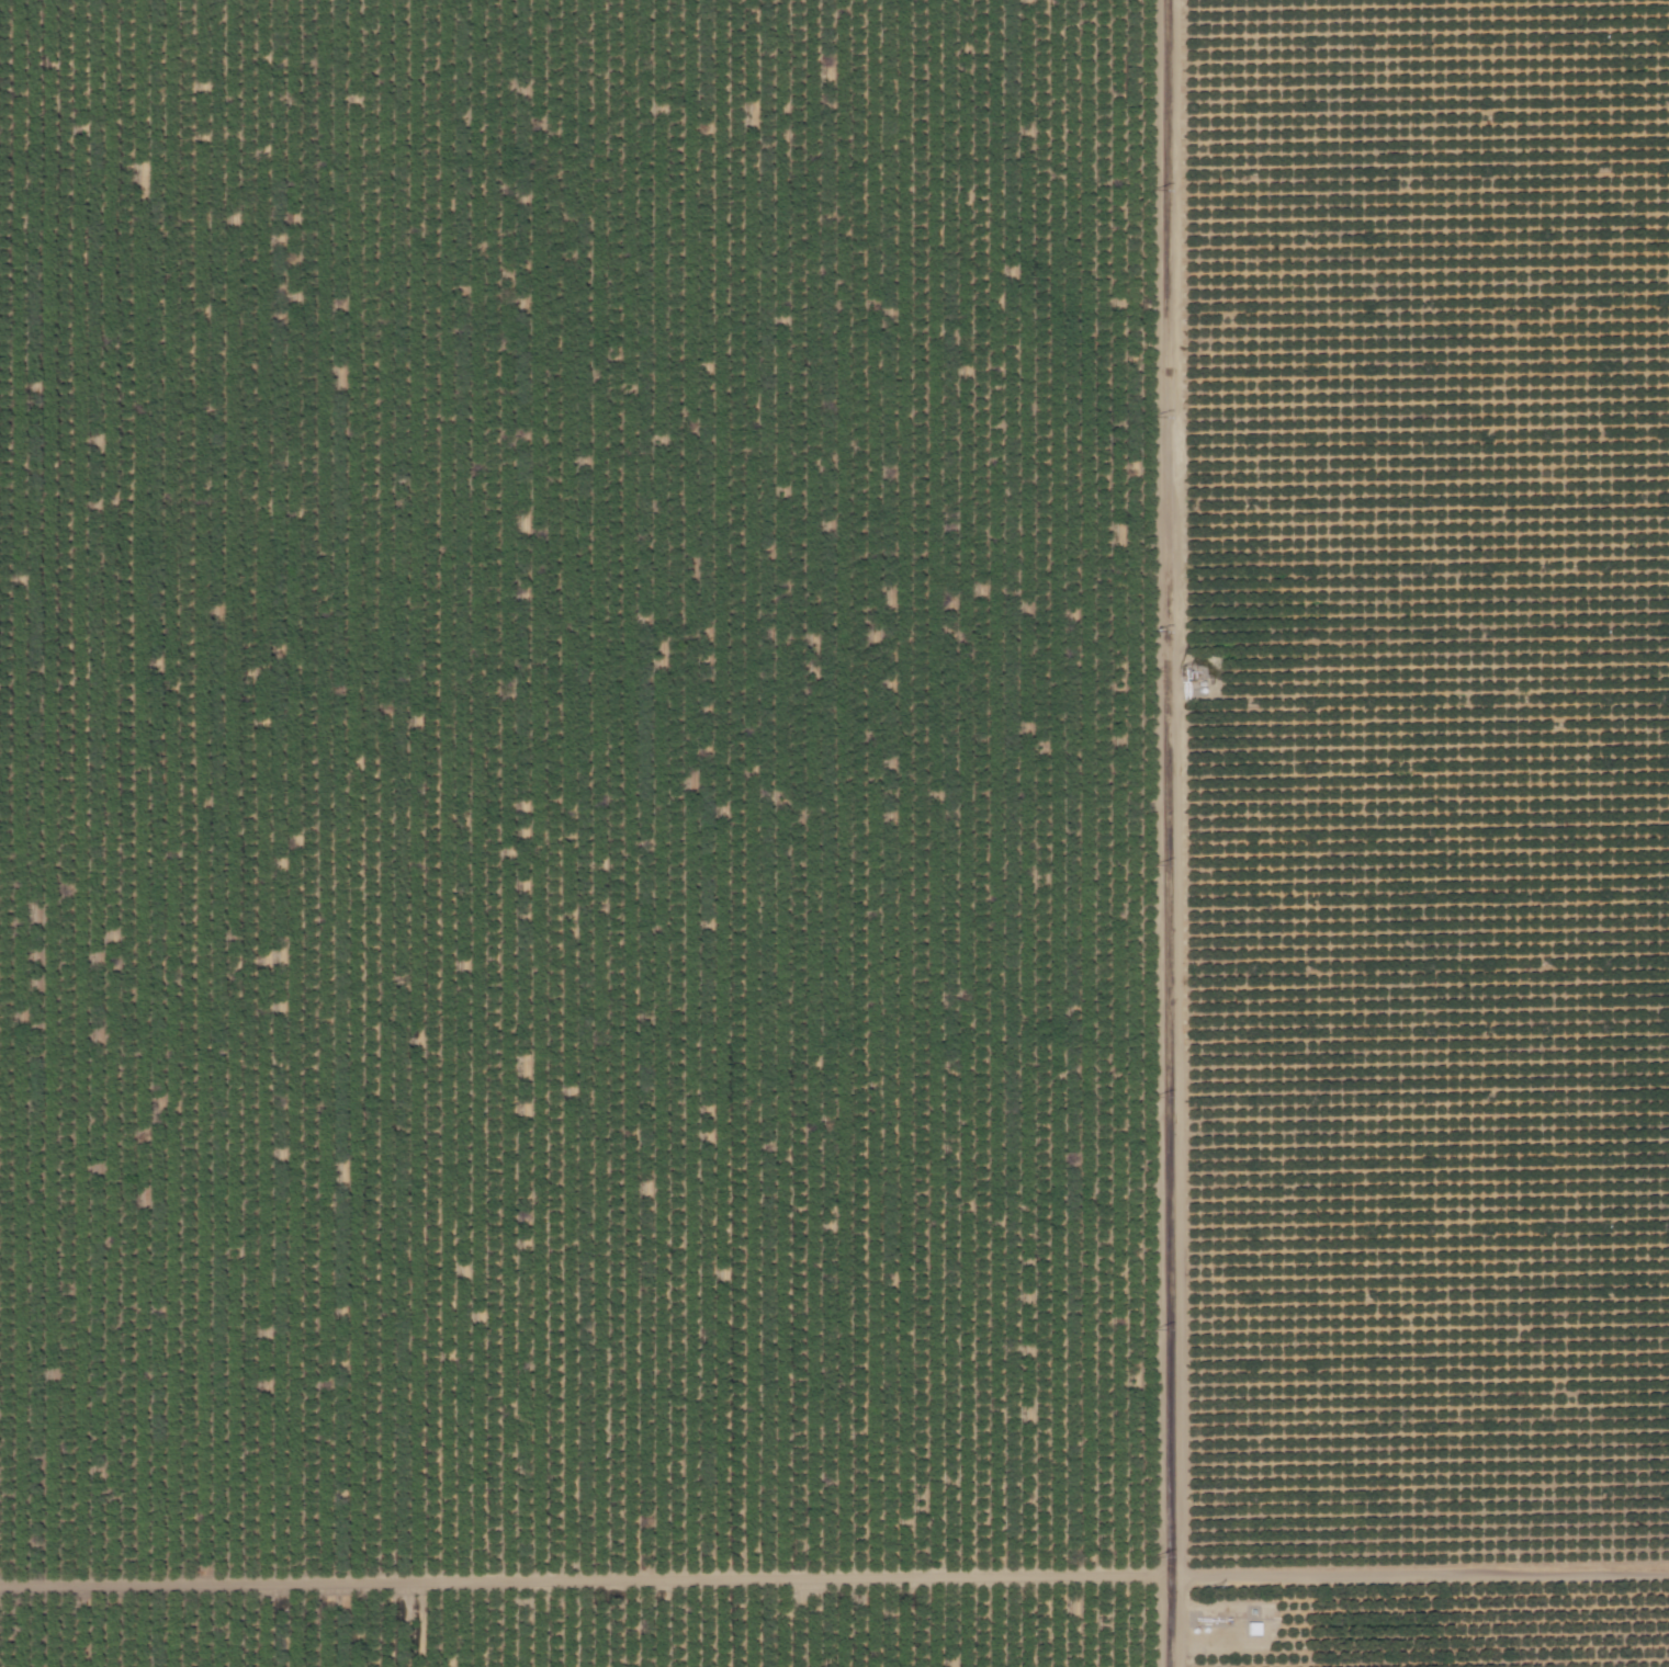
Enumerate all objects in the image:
road: (1164, 832)

